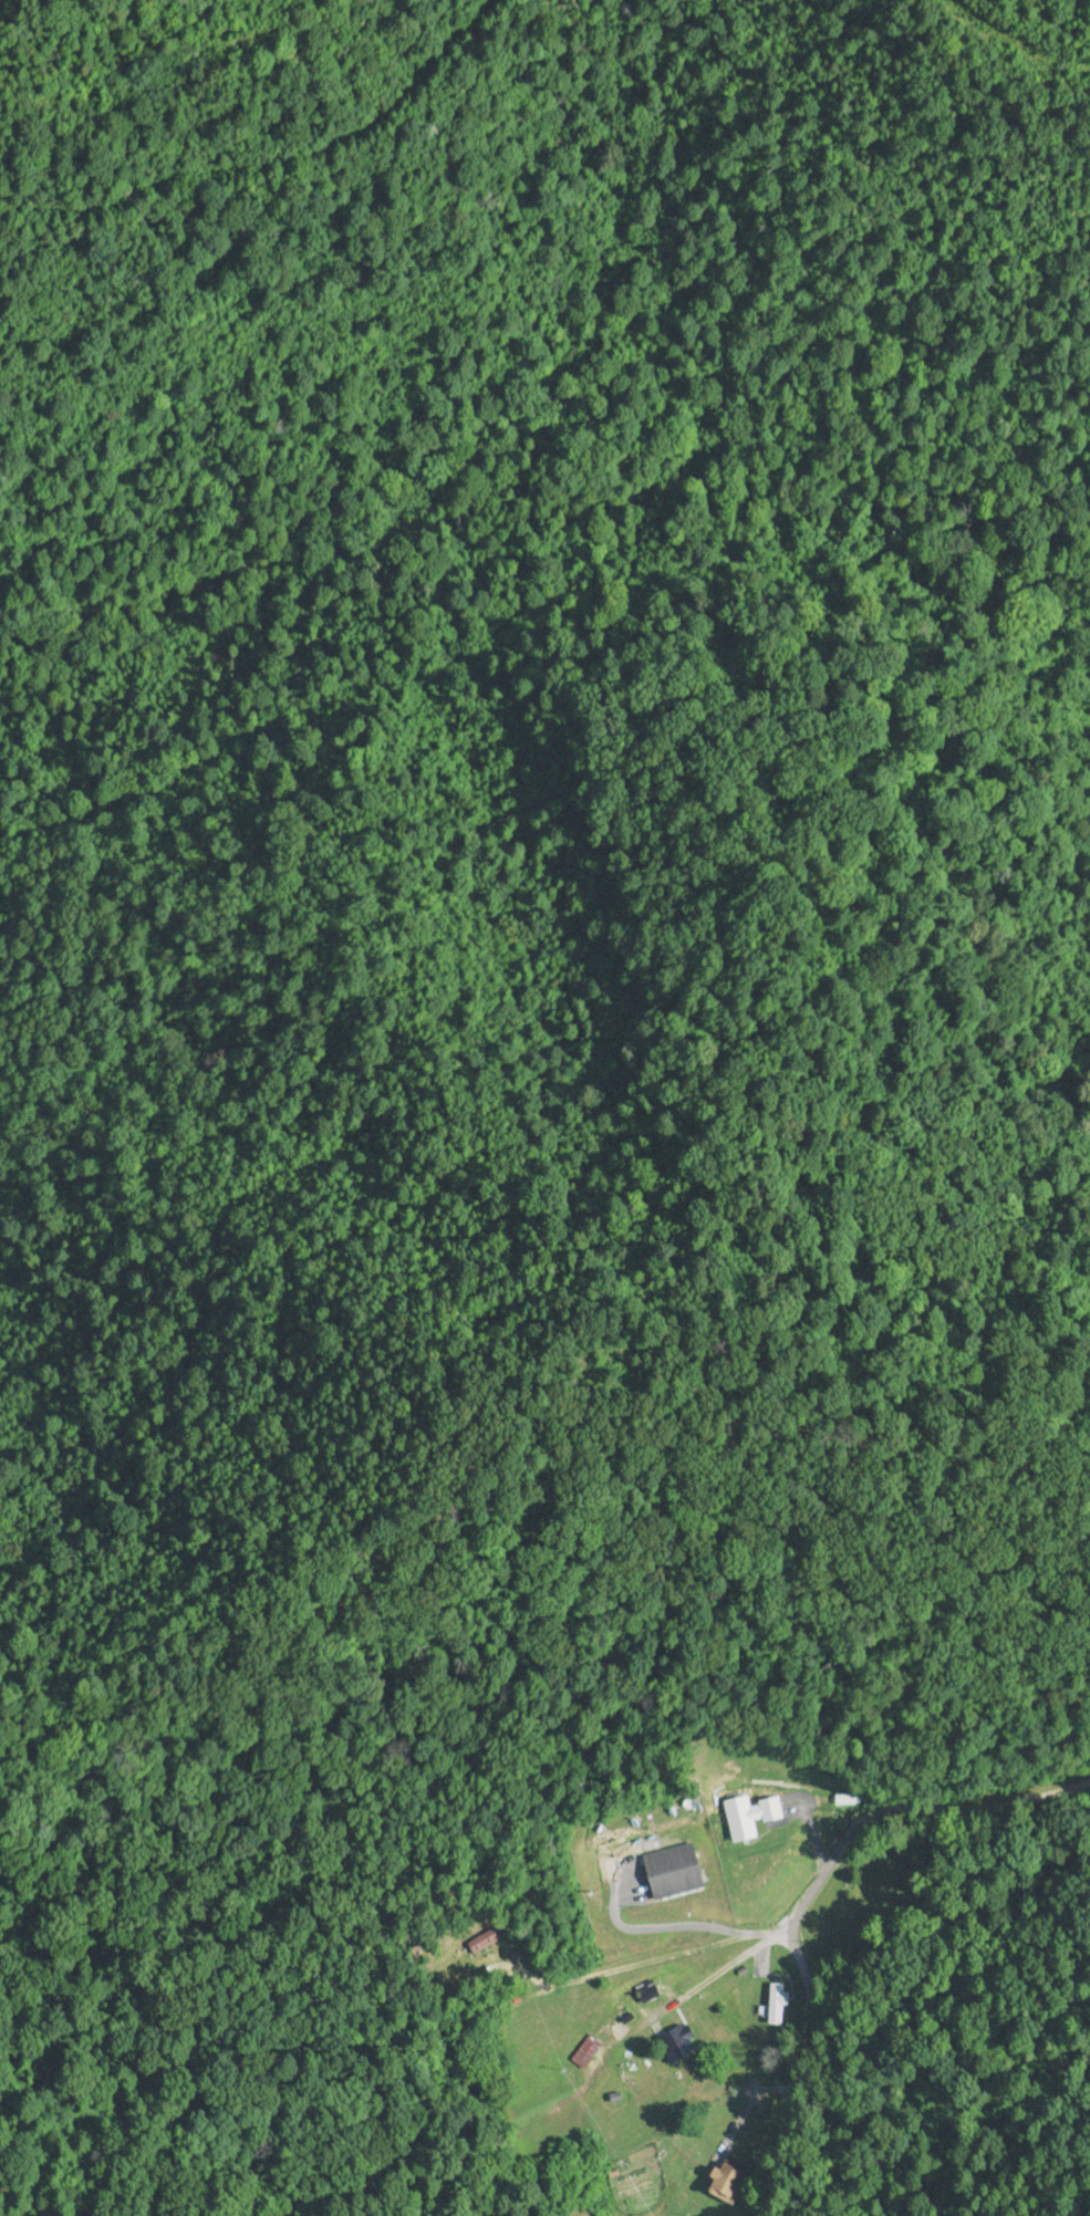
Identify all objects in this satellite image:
road: (414, 1991)
road: (819, 2046)

